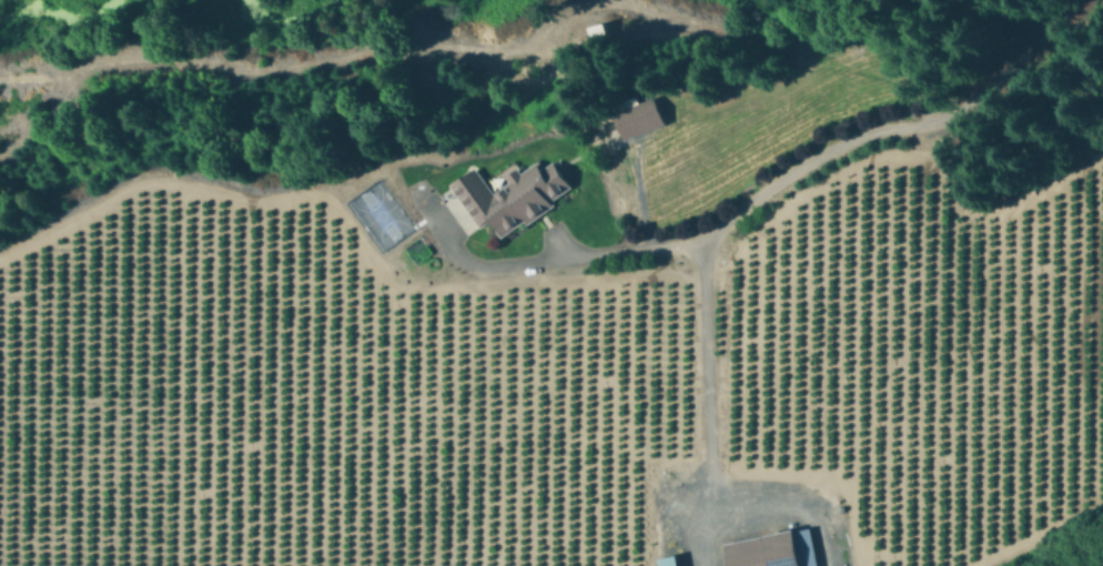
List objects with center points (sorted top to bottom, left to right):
building: (603, 36)
building: (644, 120)
road: (910, 134)
building: (519, 195)
road: (559, 262)
crop: (569, 352)
road: (708, 373)
building: (769, 549)
building: (675, 562)

